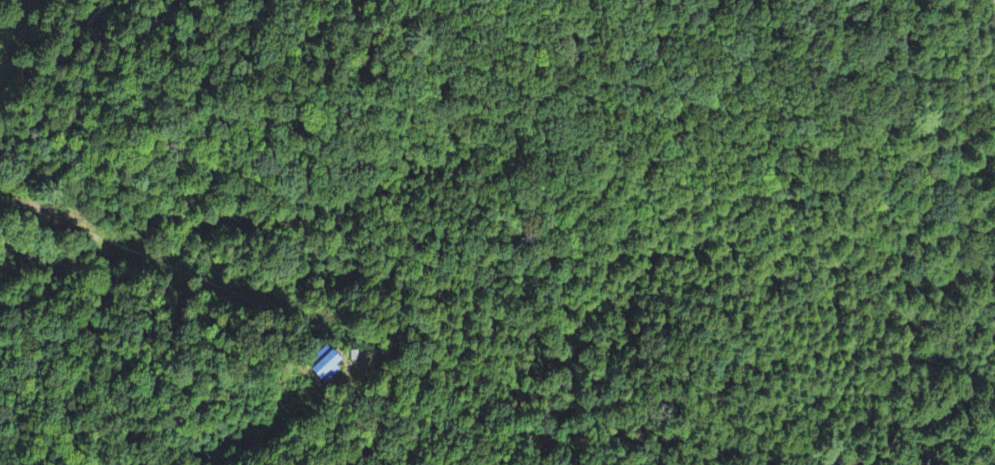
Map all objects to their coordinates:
building: (330, 369)

